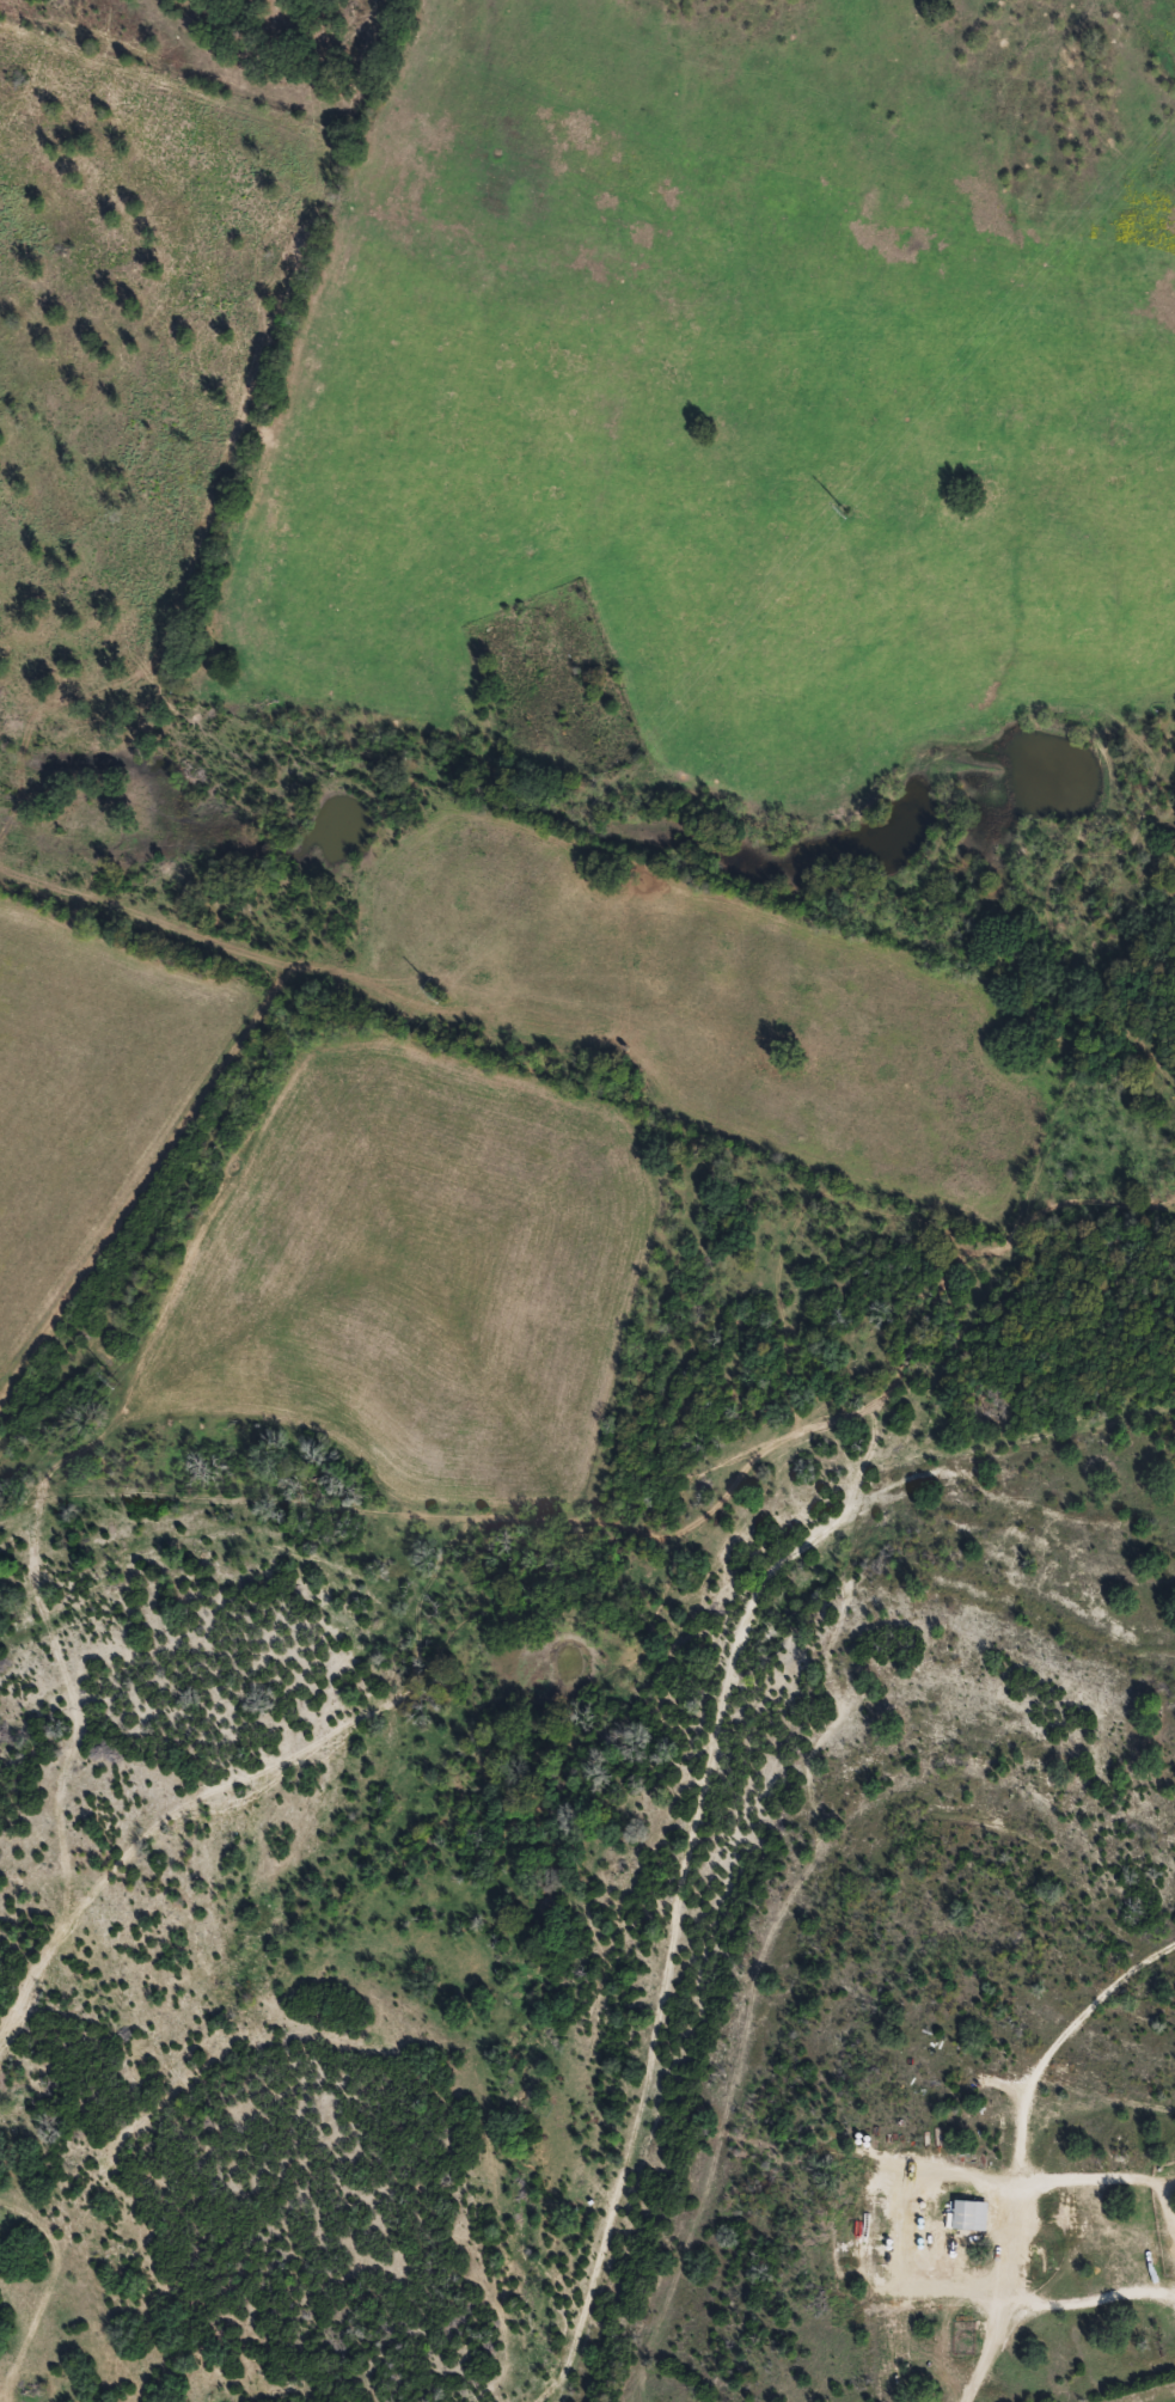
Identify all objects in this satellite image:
power tower: (844, 507)
park: (556, 690)
power tower: (437, 995)
power tower: (111, 1381)
road: (929, 1508)
building: (974, 2215)

